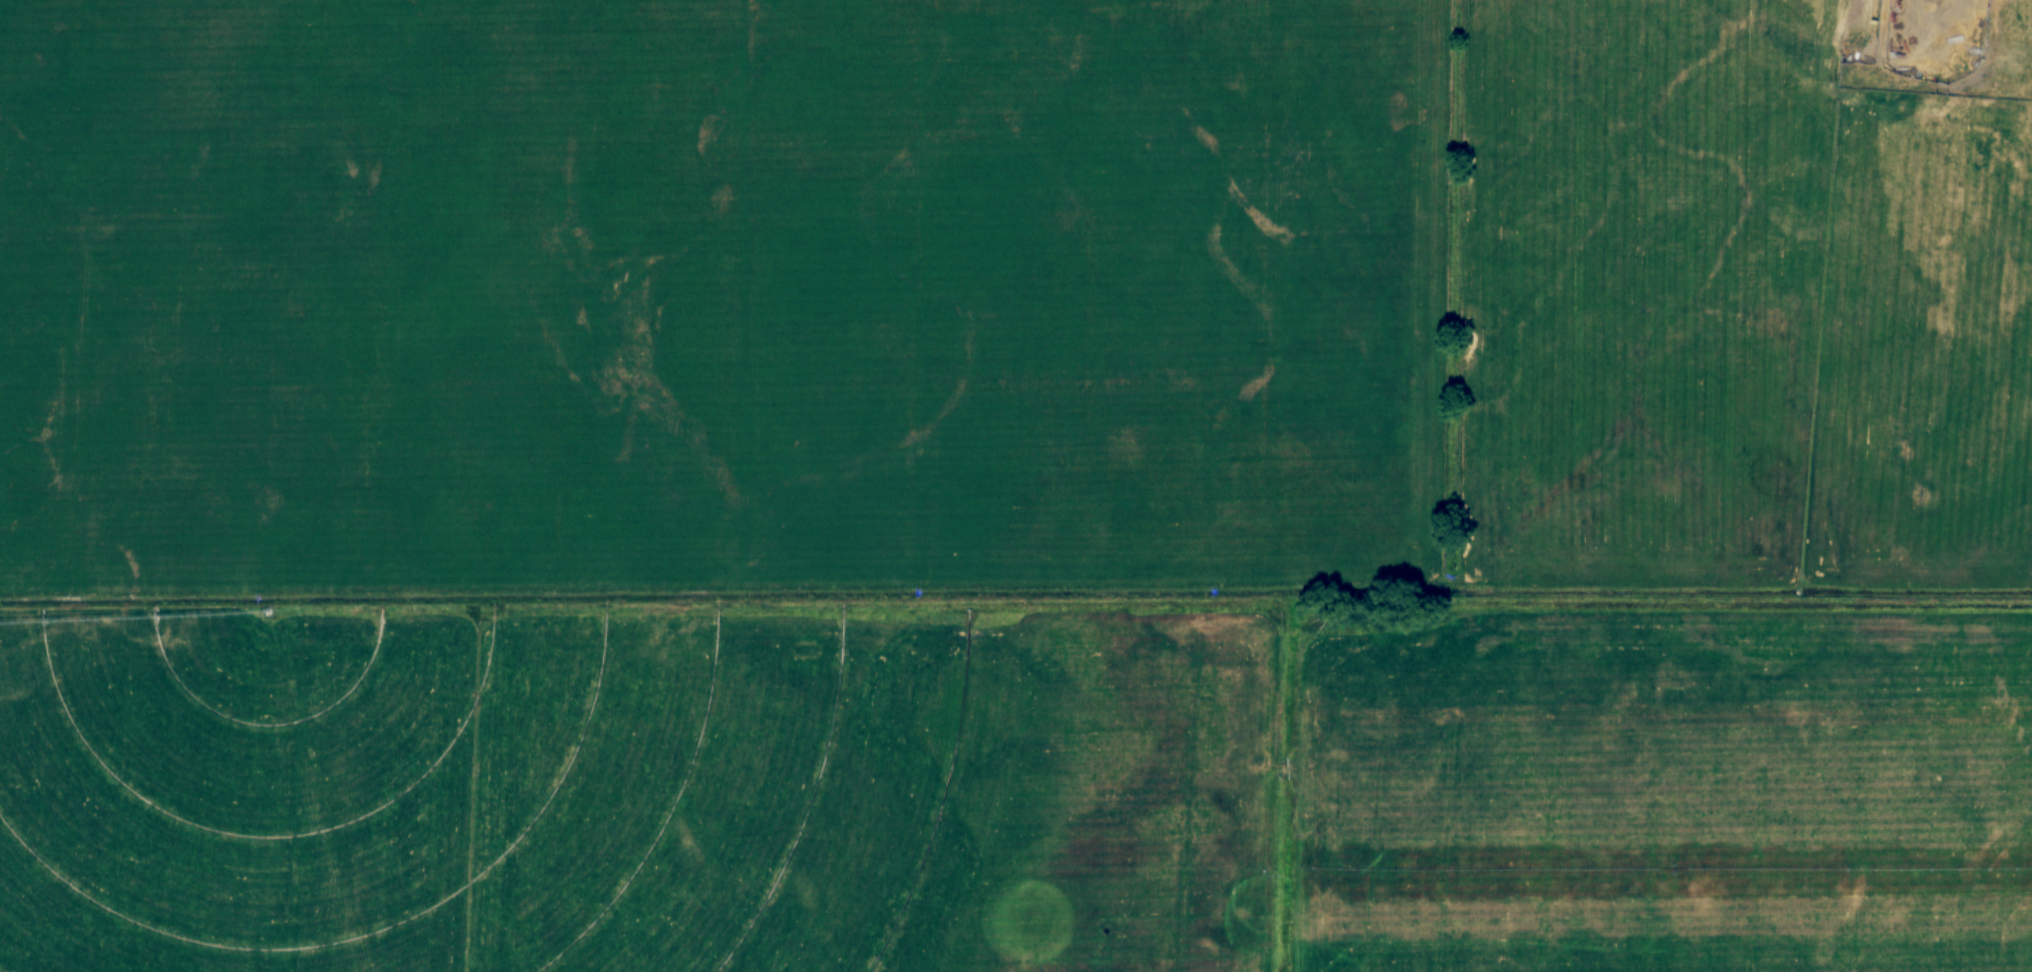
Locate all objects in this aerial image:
building: (1858, 32)

